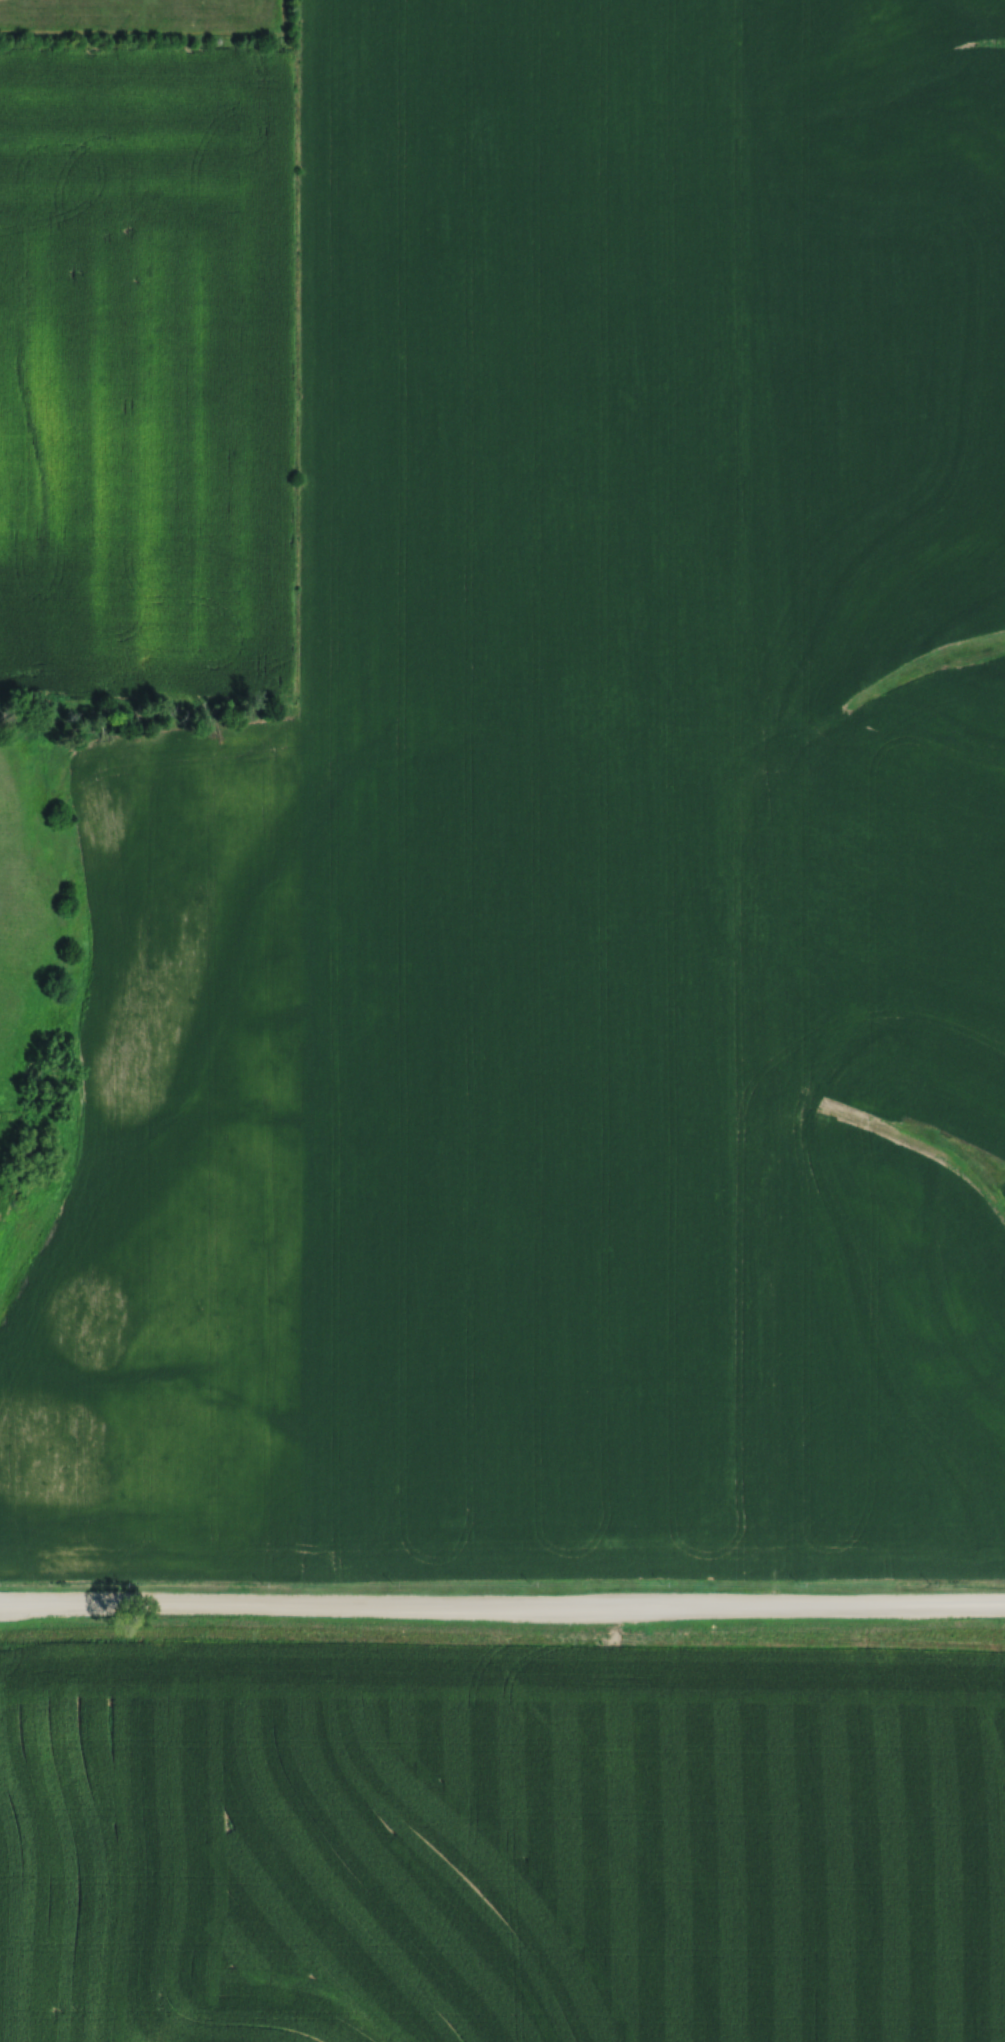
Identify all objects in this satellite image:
road: (502, 1602)

